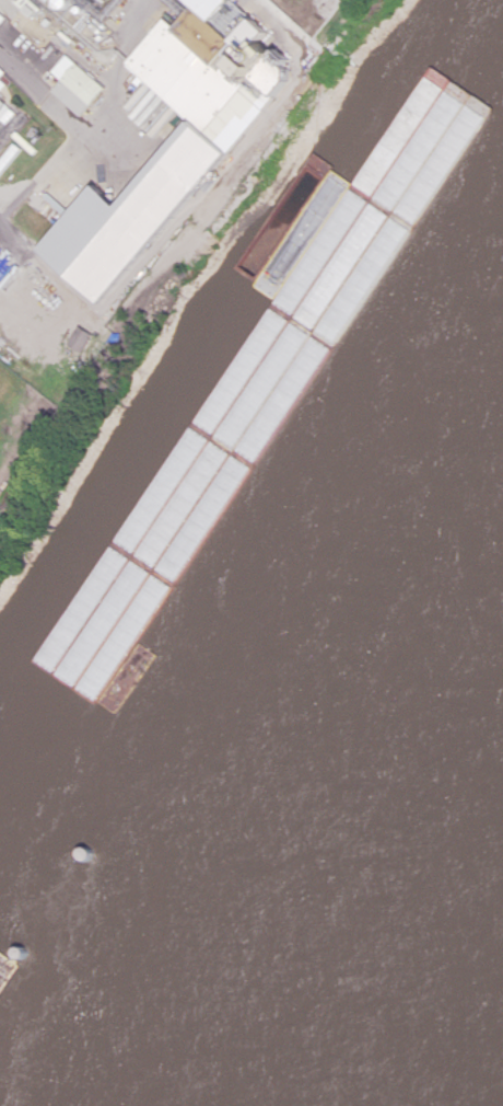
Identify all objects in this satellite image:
building: (77, 84)
road: (62, 113)
building: (201, 151)
building: (90, 338)

